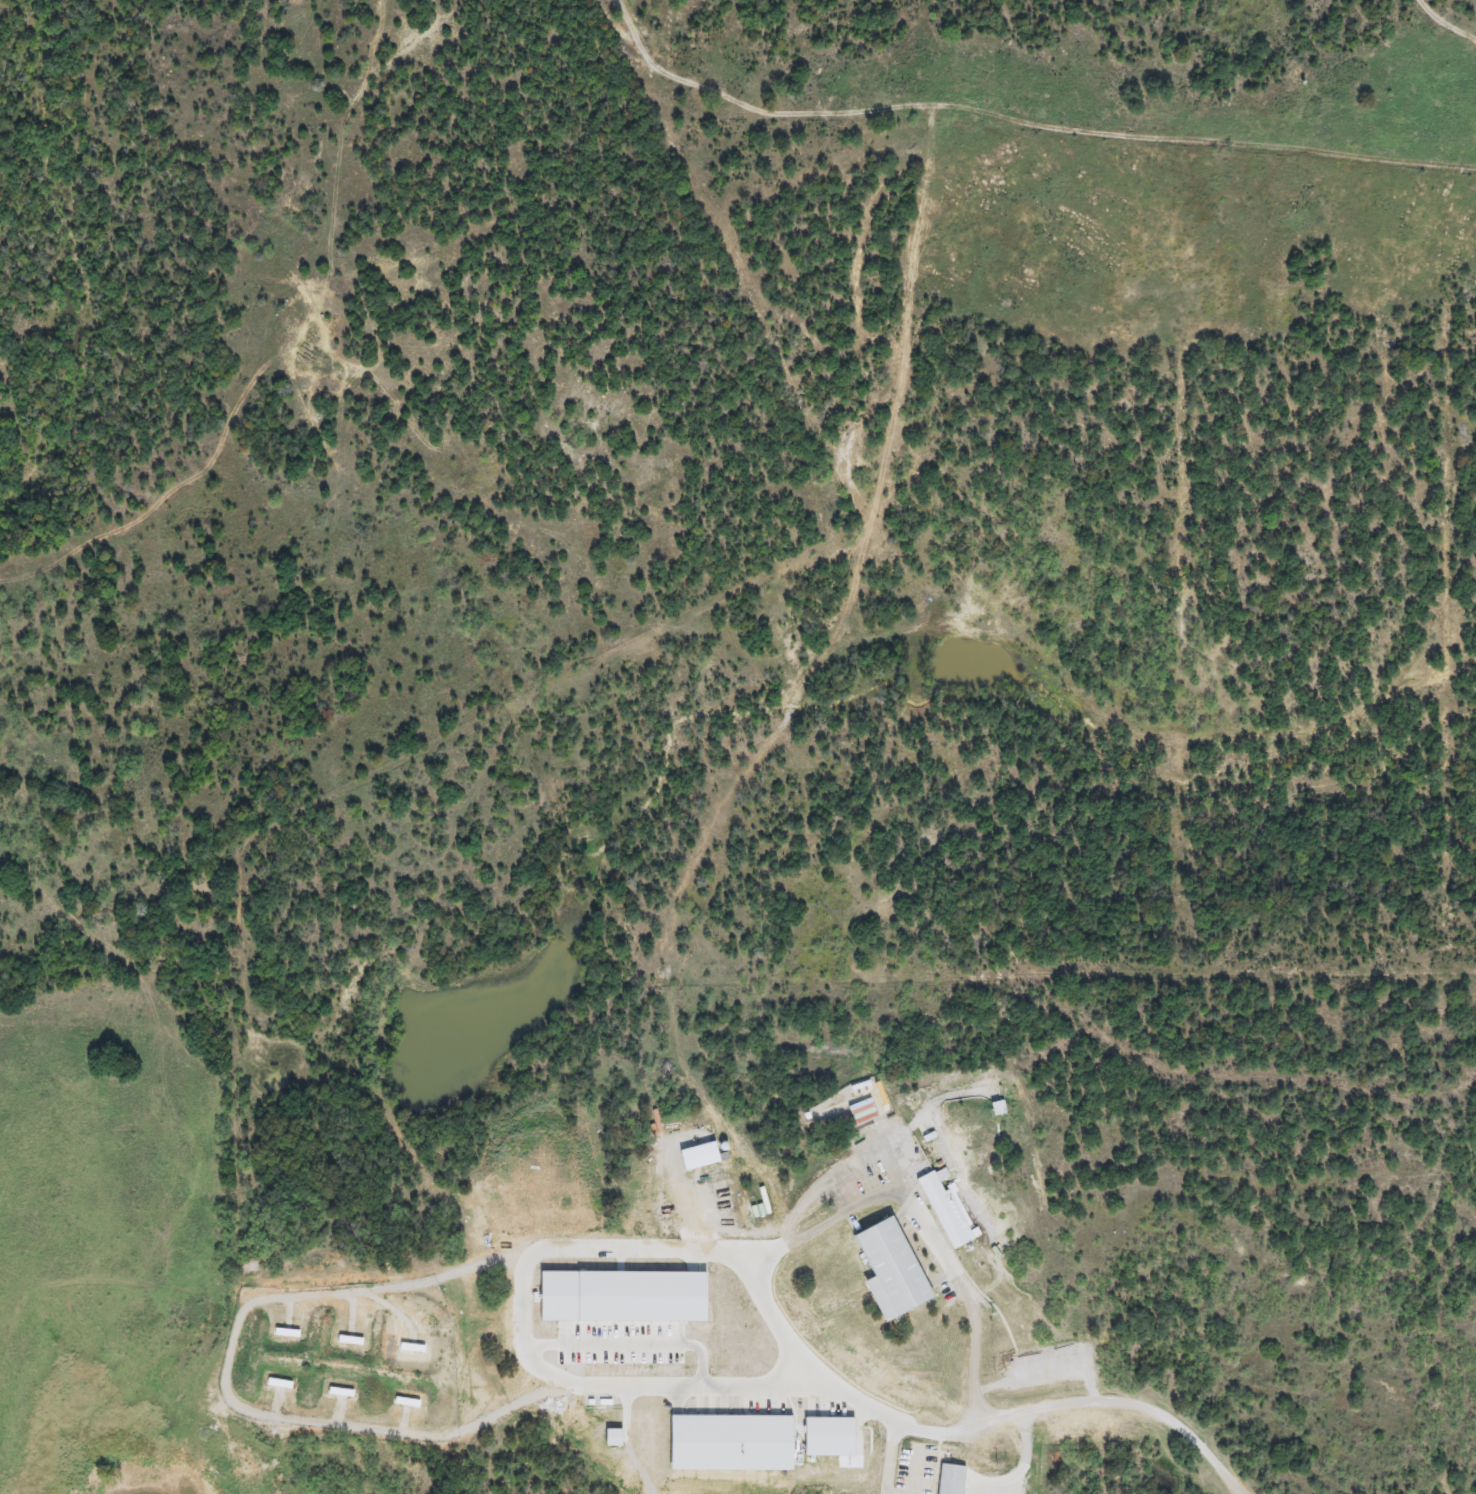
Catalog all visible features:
building: (640, 1210)
building: (944, 1211)
road: (803, 1235)
building: (883, 1270)
building: (558, 1298)
road: (523, 1348)
road: (632, 1351)
road: (226, 1389)
road: (1119, 1401)
road: (892, 1458)
road: (1028, 1466)
road: (918, 1476)

